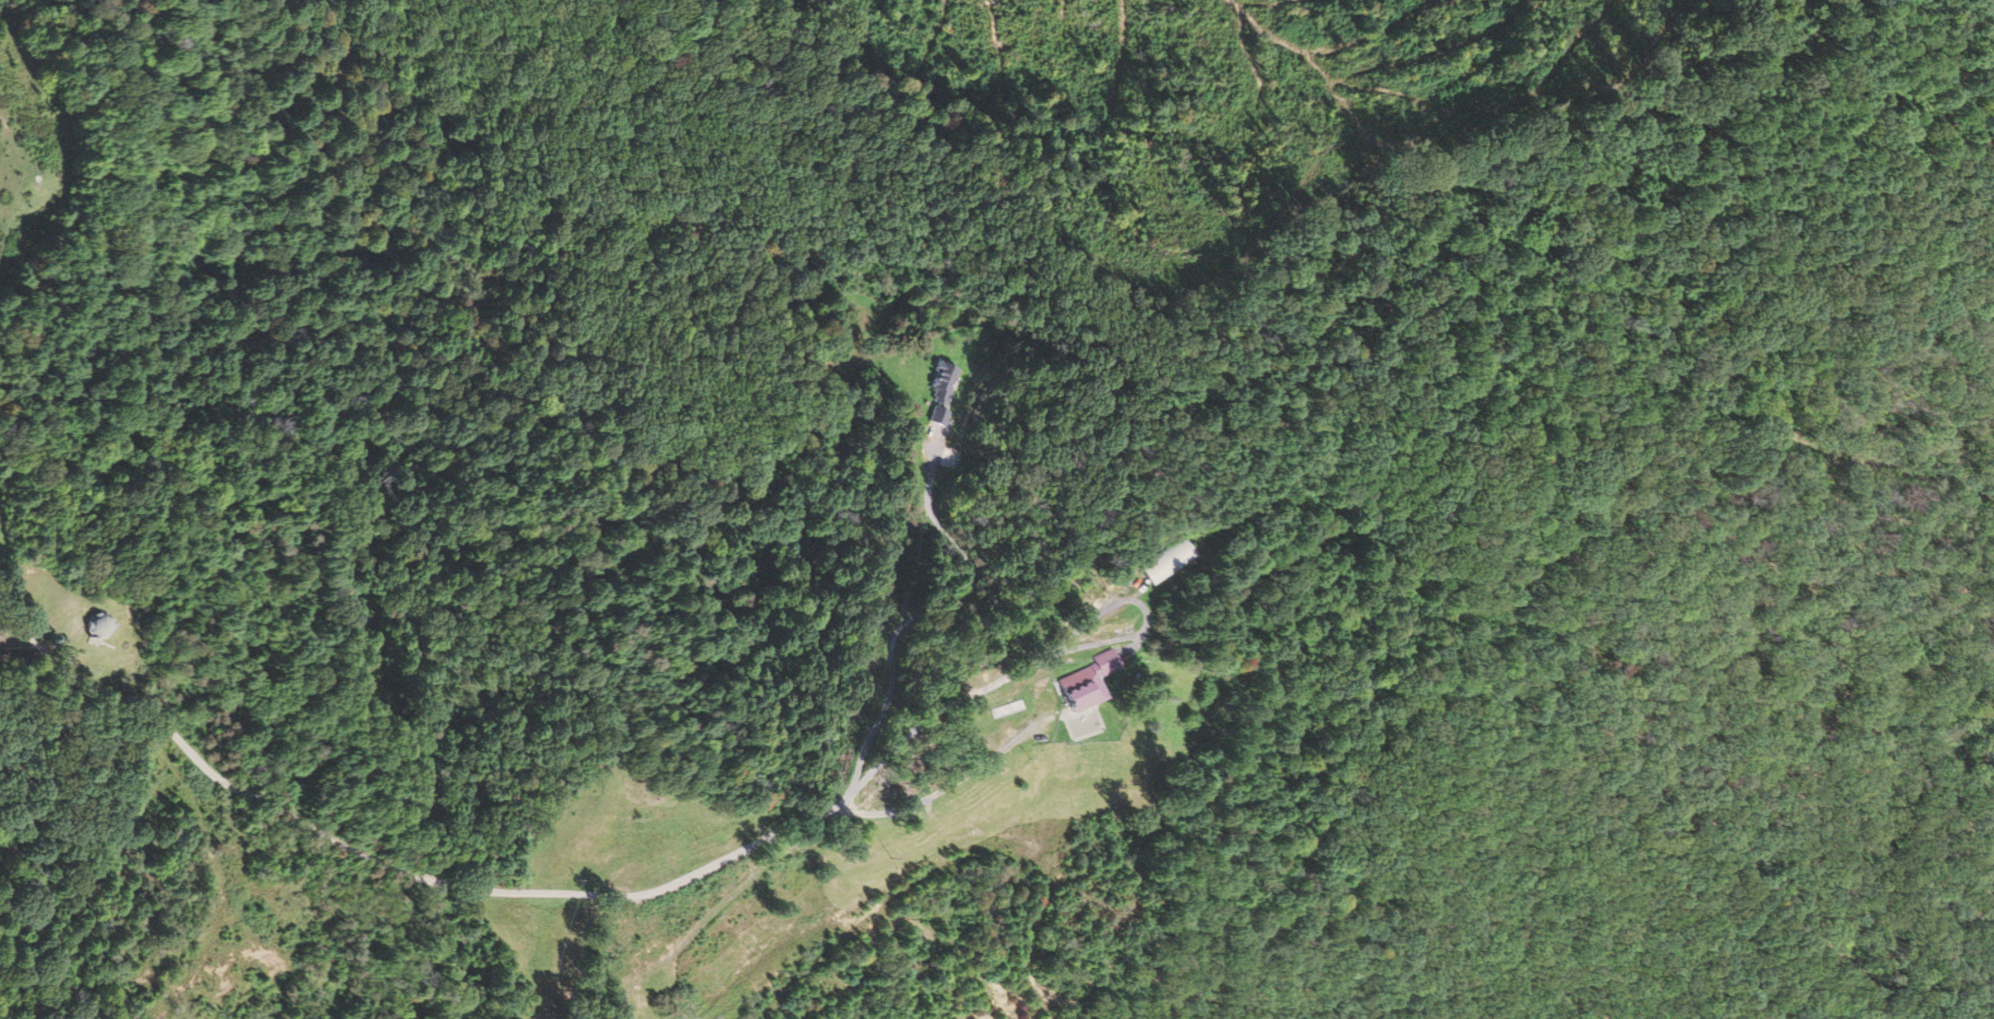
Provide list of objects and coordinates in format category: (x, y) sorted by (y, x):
building: (939, 393)
building: (1164, 561)
building: (94, 625)
building: (1081, 681)
road: (282, 813)

